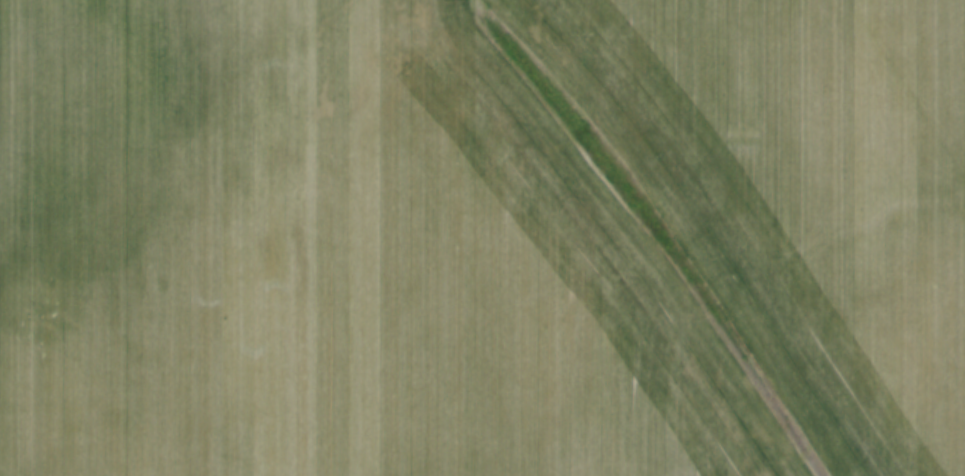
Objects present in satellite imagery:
crop: (482, 238)

